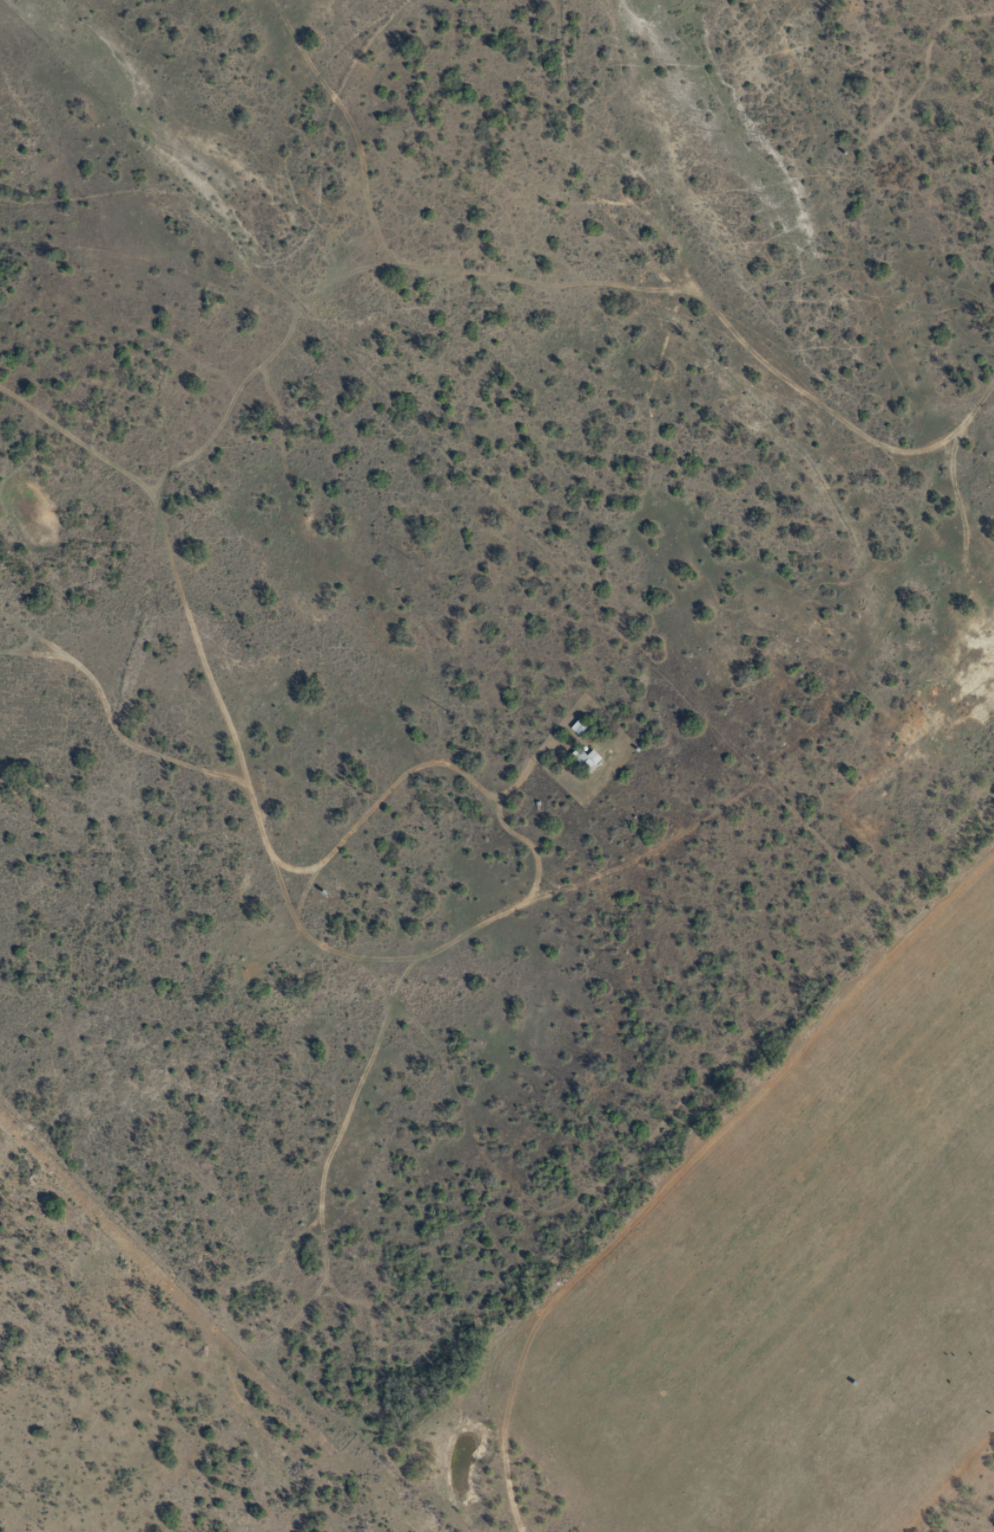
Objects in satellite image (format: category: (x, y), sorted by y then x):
building: (584, 758)
crop: (799, 1285)

